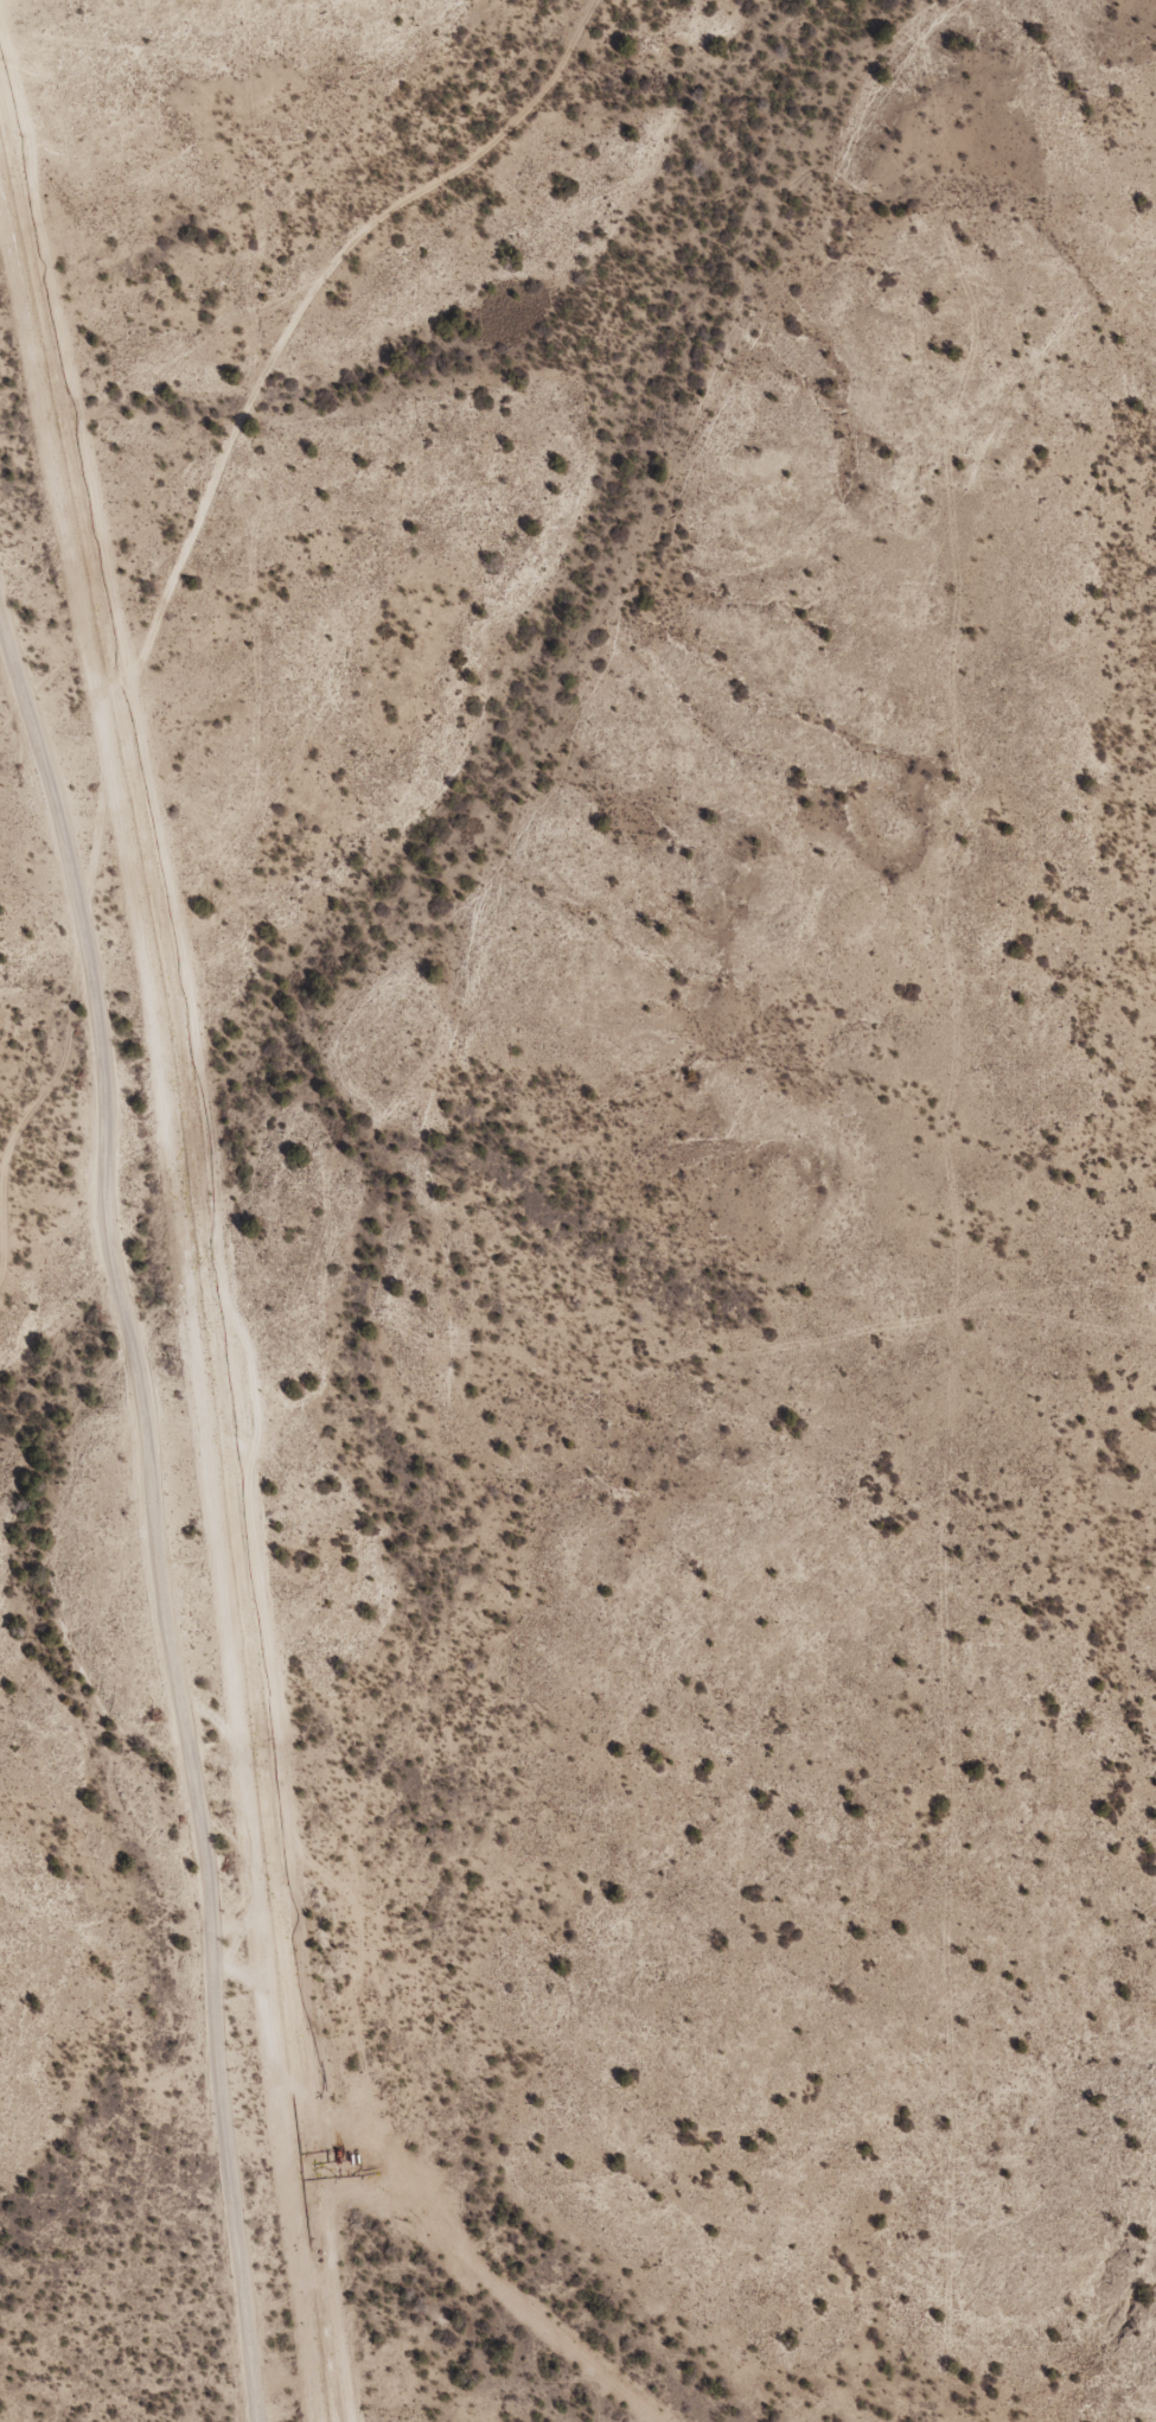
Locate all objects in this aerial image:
road: (190, 574)

